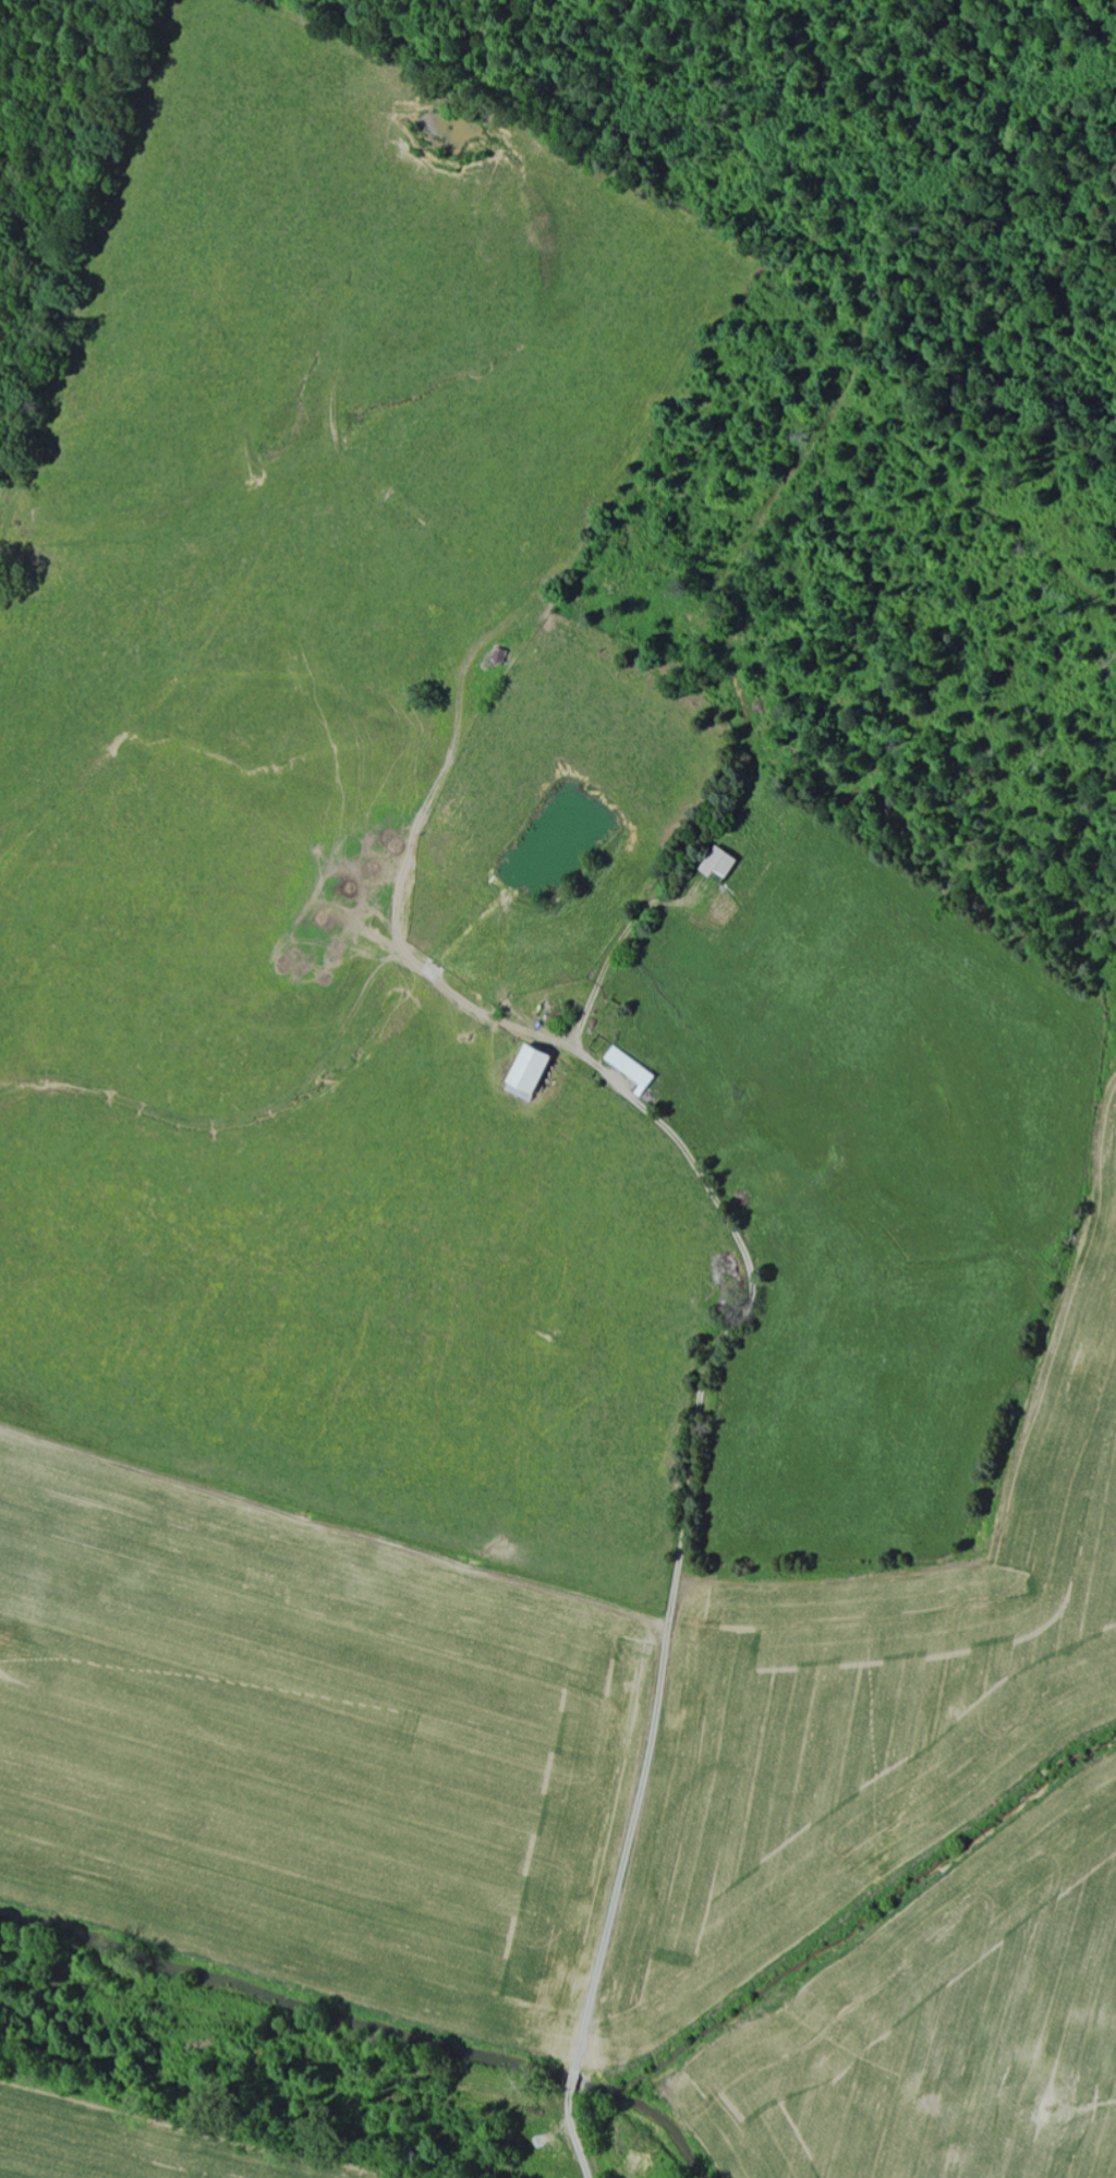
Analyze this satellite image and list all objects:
building: (629, 1068)
building: (522, 1070)
road: (716, 1415)

